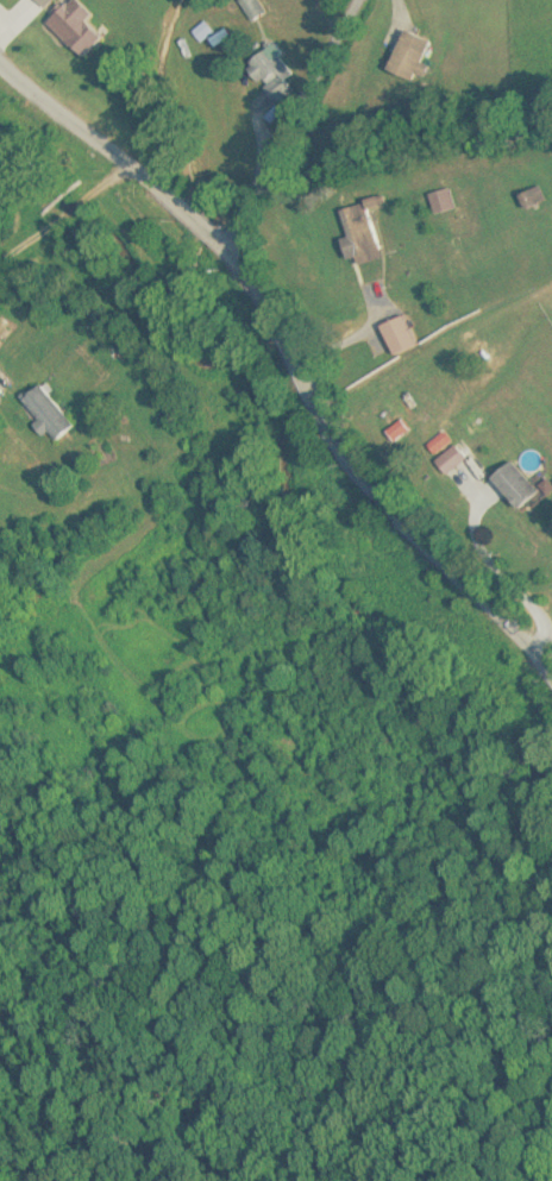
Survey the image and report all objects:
building: (40, 2)
building: (252, 10)
building: (73, 29)
building: (203, 33)
building: (408, 57)
building: (271, 71)
road: (306, 126)
building: (532, 199)
building: (358, 237)
building: (397, 337)
road: (289, 345)
building: (45, 412)
building: (439, 445)
building: (450, 460)
building: (514, 484)

